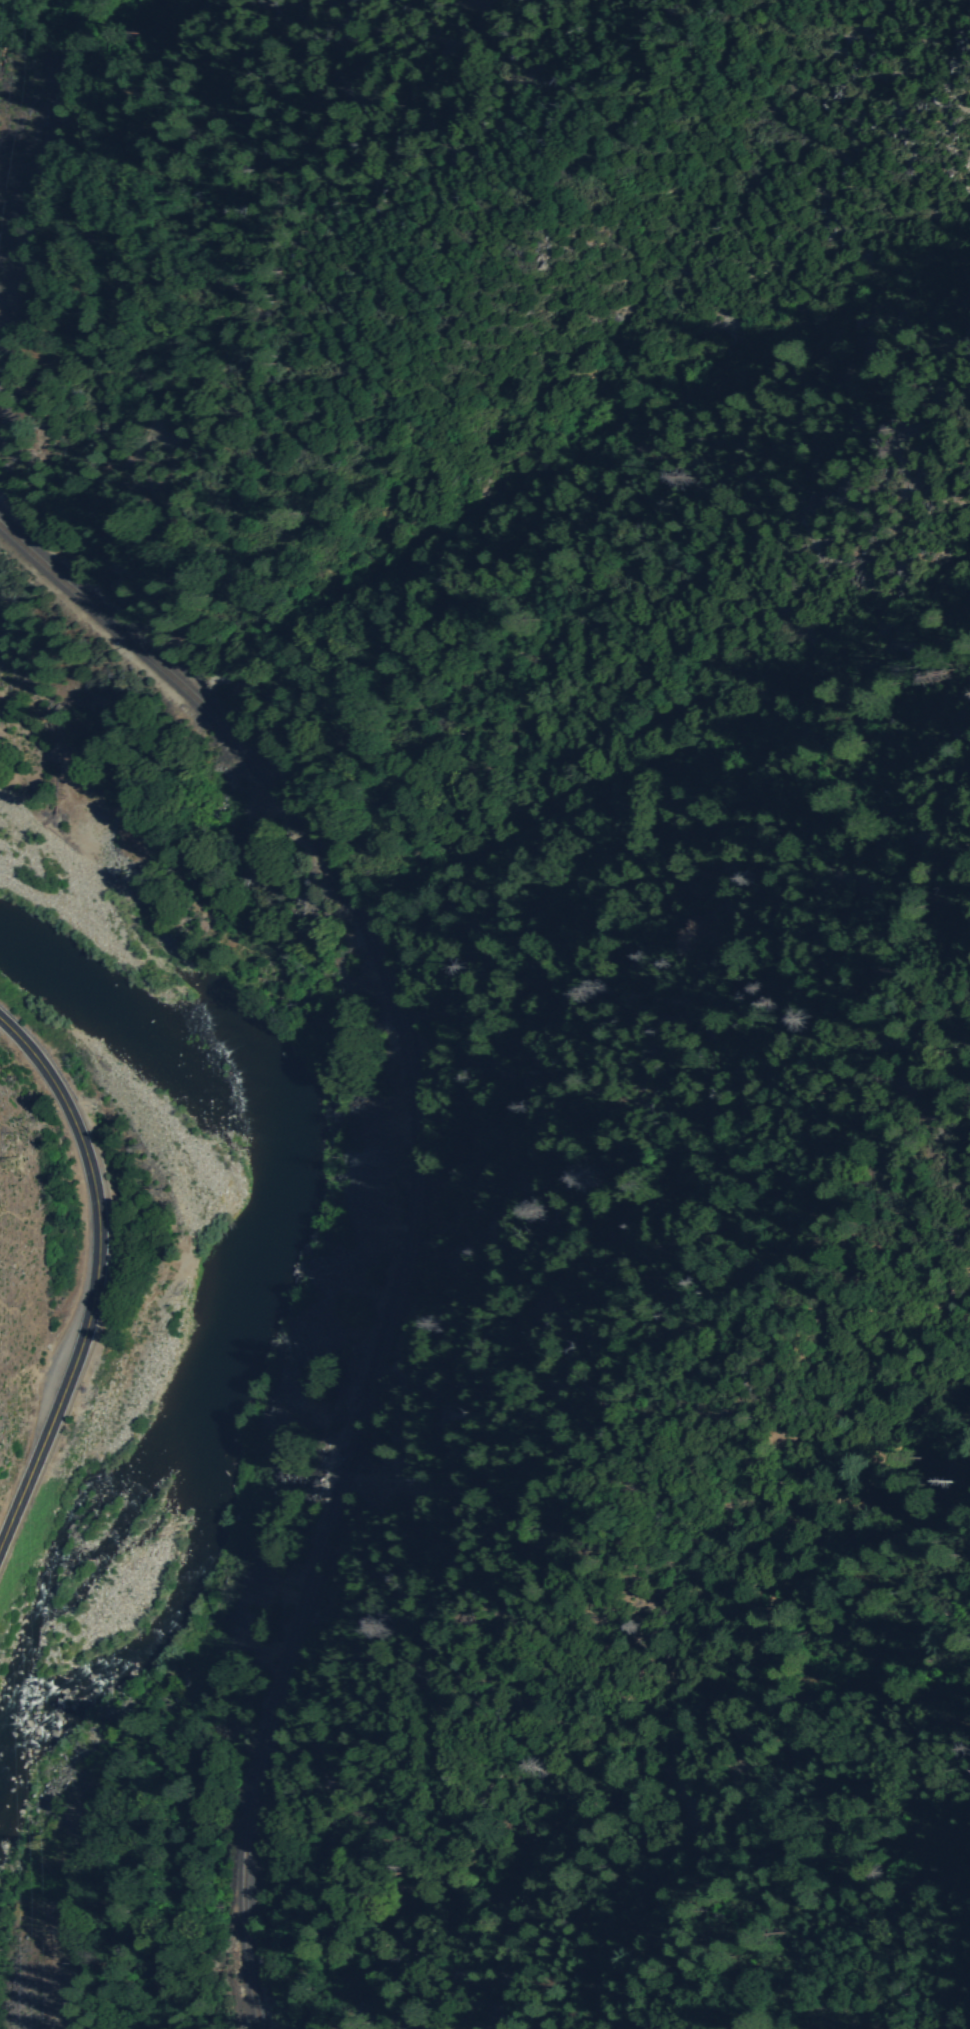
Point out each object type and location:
railway: (416, 1212)
road: (97, 1277)
river: (250, 1282)
river: (16, 1736)
power tower: (43, 1846)

